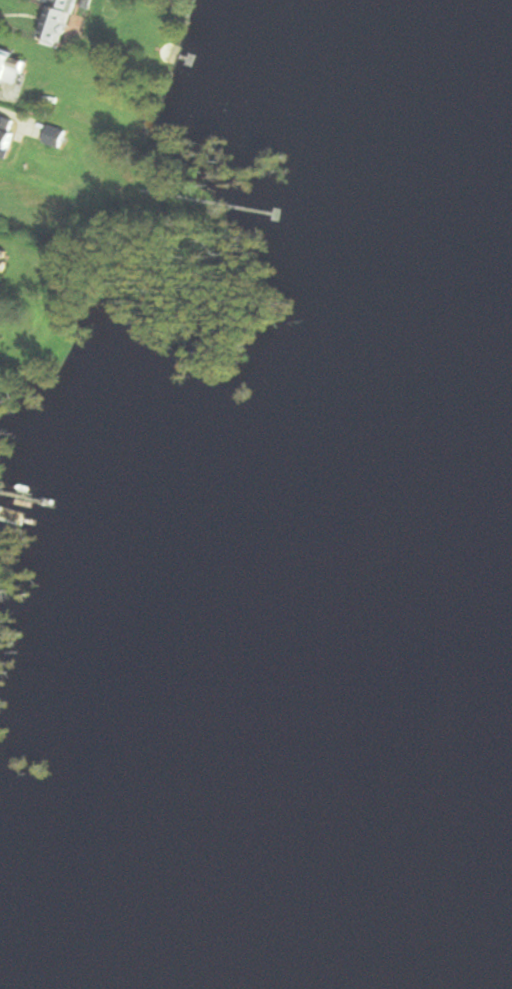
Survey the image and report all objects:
building: (60, 19)
building: (188, 60)
building: (11, 68)
building: (58, 137)
building: (7, 138)
building: (4, 260)

